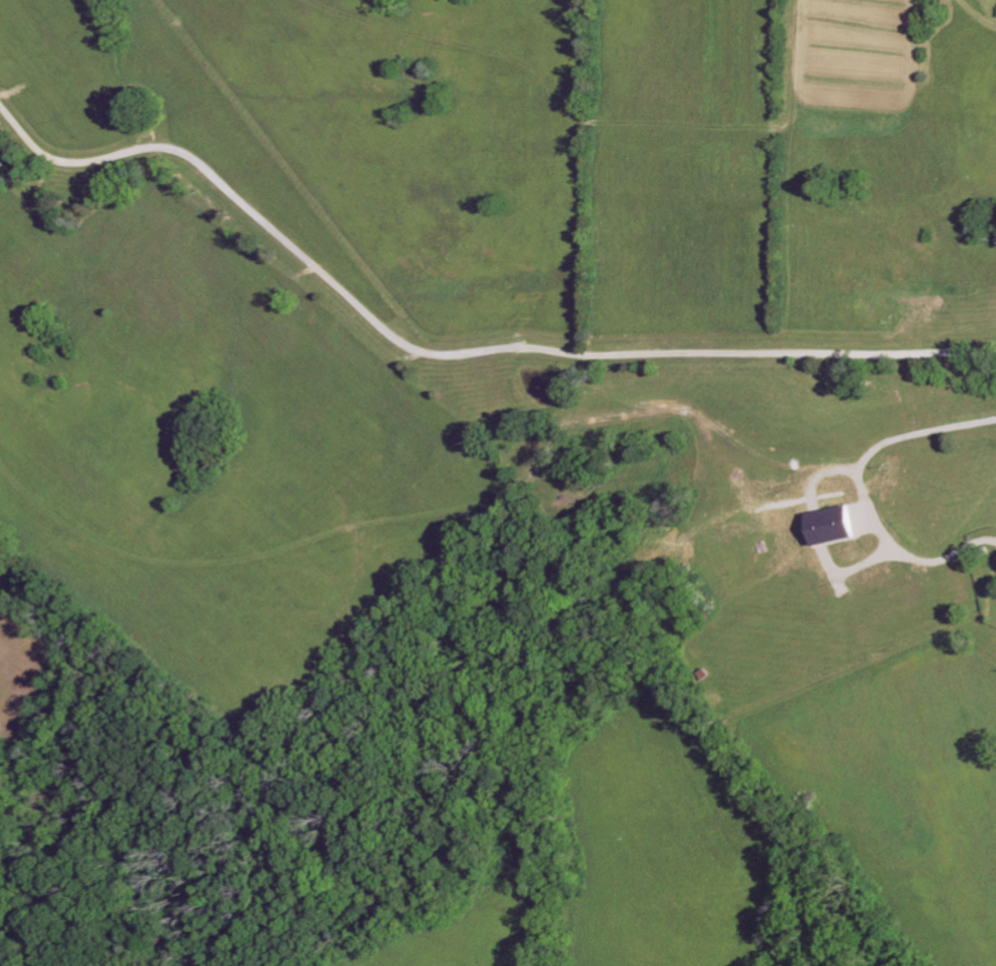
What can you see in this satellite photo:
road: (446, 352)
road: (865, 490)
building: (832, 525)

